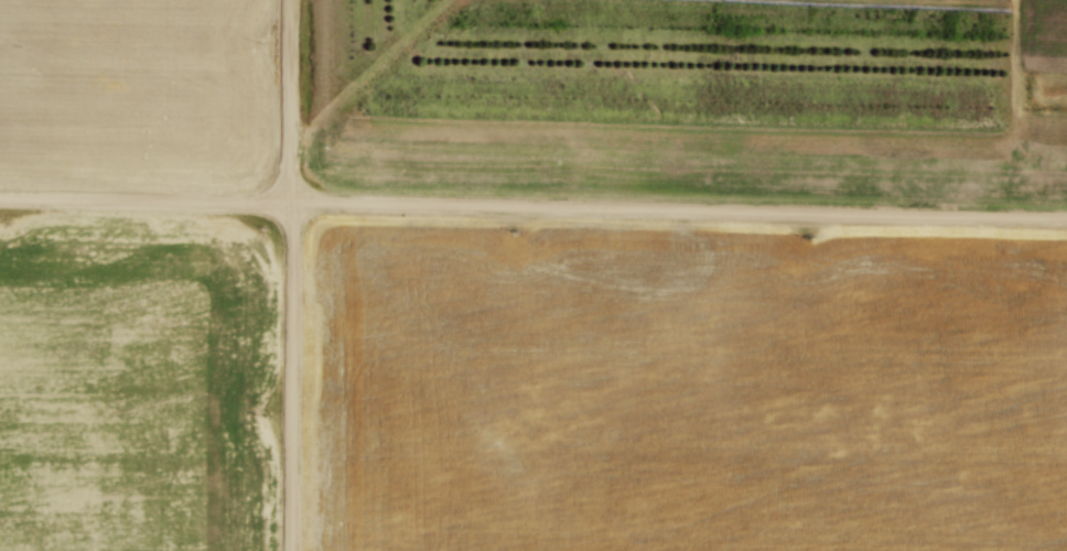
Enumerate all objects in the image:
crop: (137, 89)
crop: (734, 130)
road: (532, 207)
road: (293, 274)
crop: (134, 385)
crop: (685, 389)

